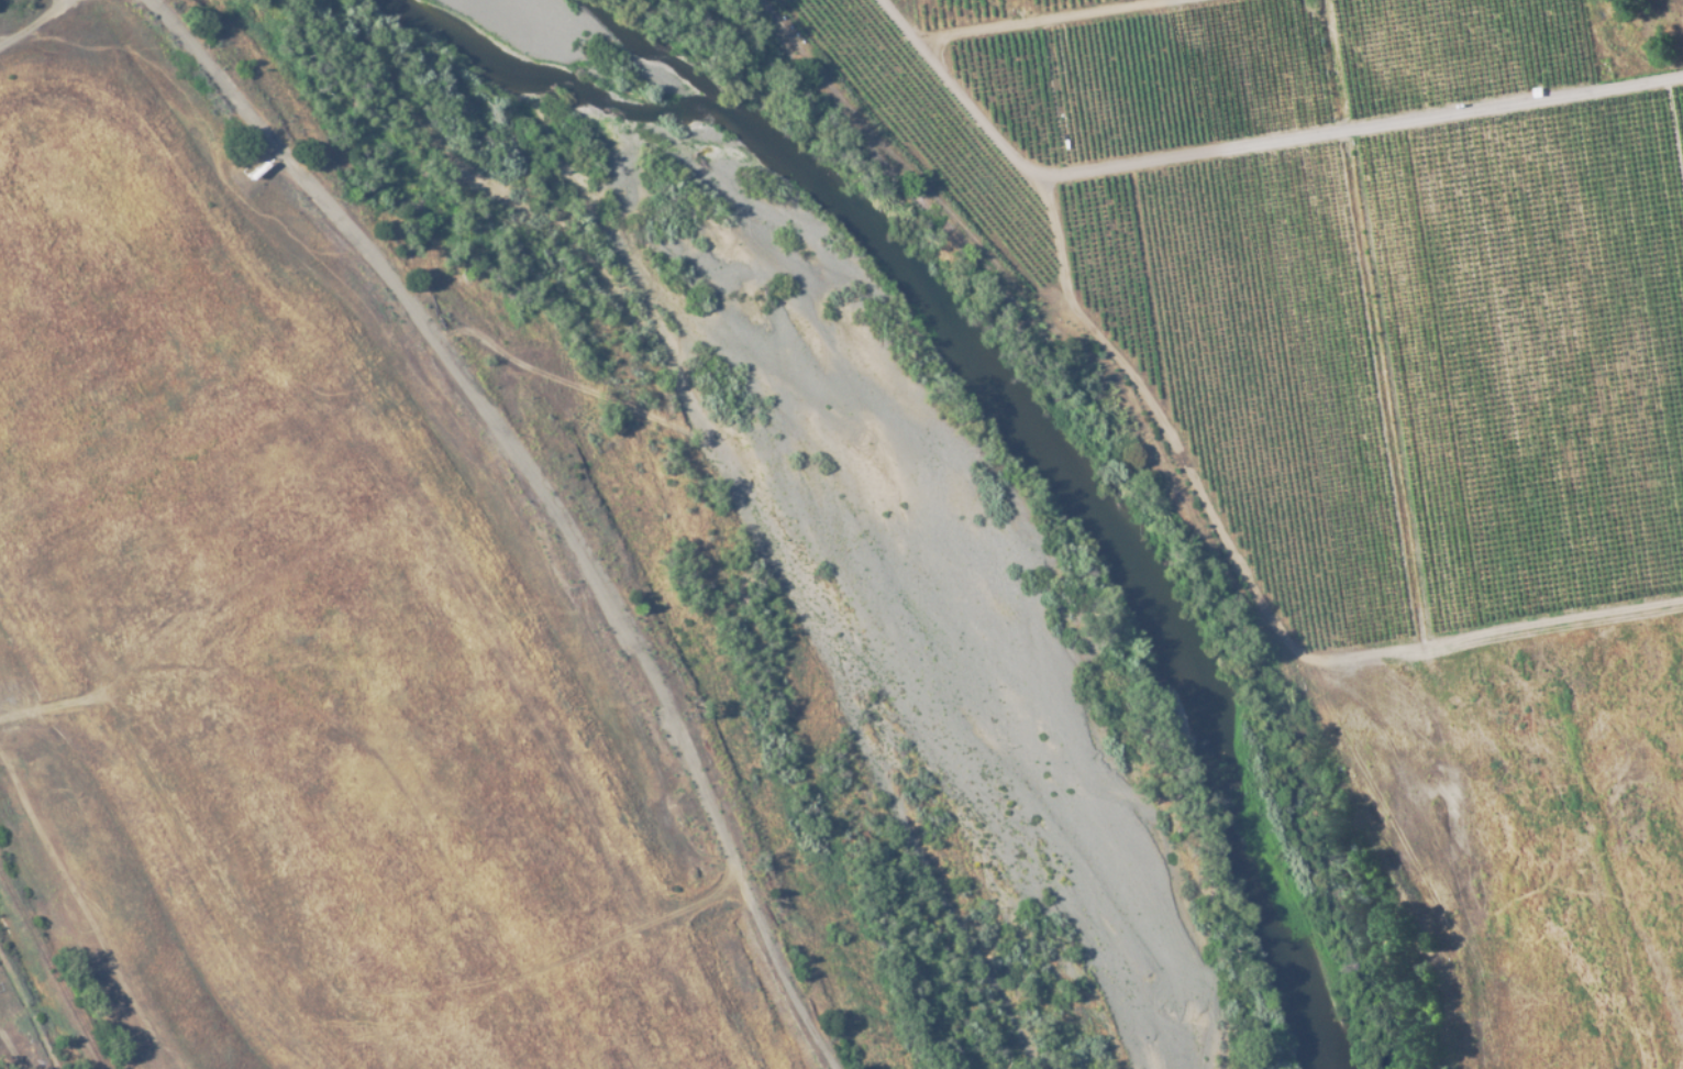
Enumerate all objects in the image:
road: (79, 0)
road: (38, 24)
road: (900, 164)
river: (1023, 436)
road: (547, 497)
road: (173, 864)
railway: (52, 969)

